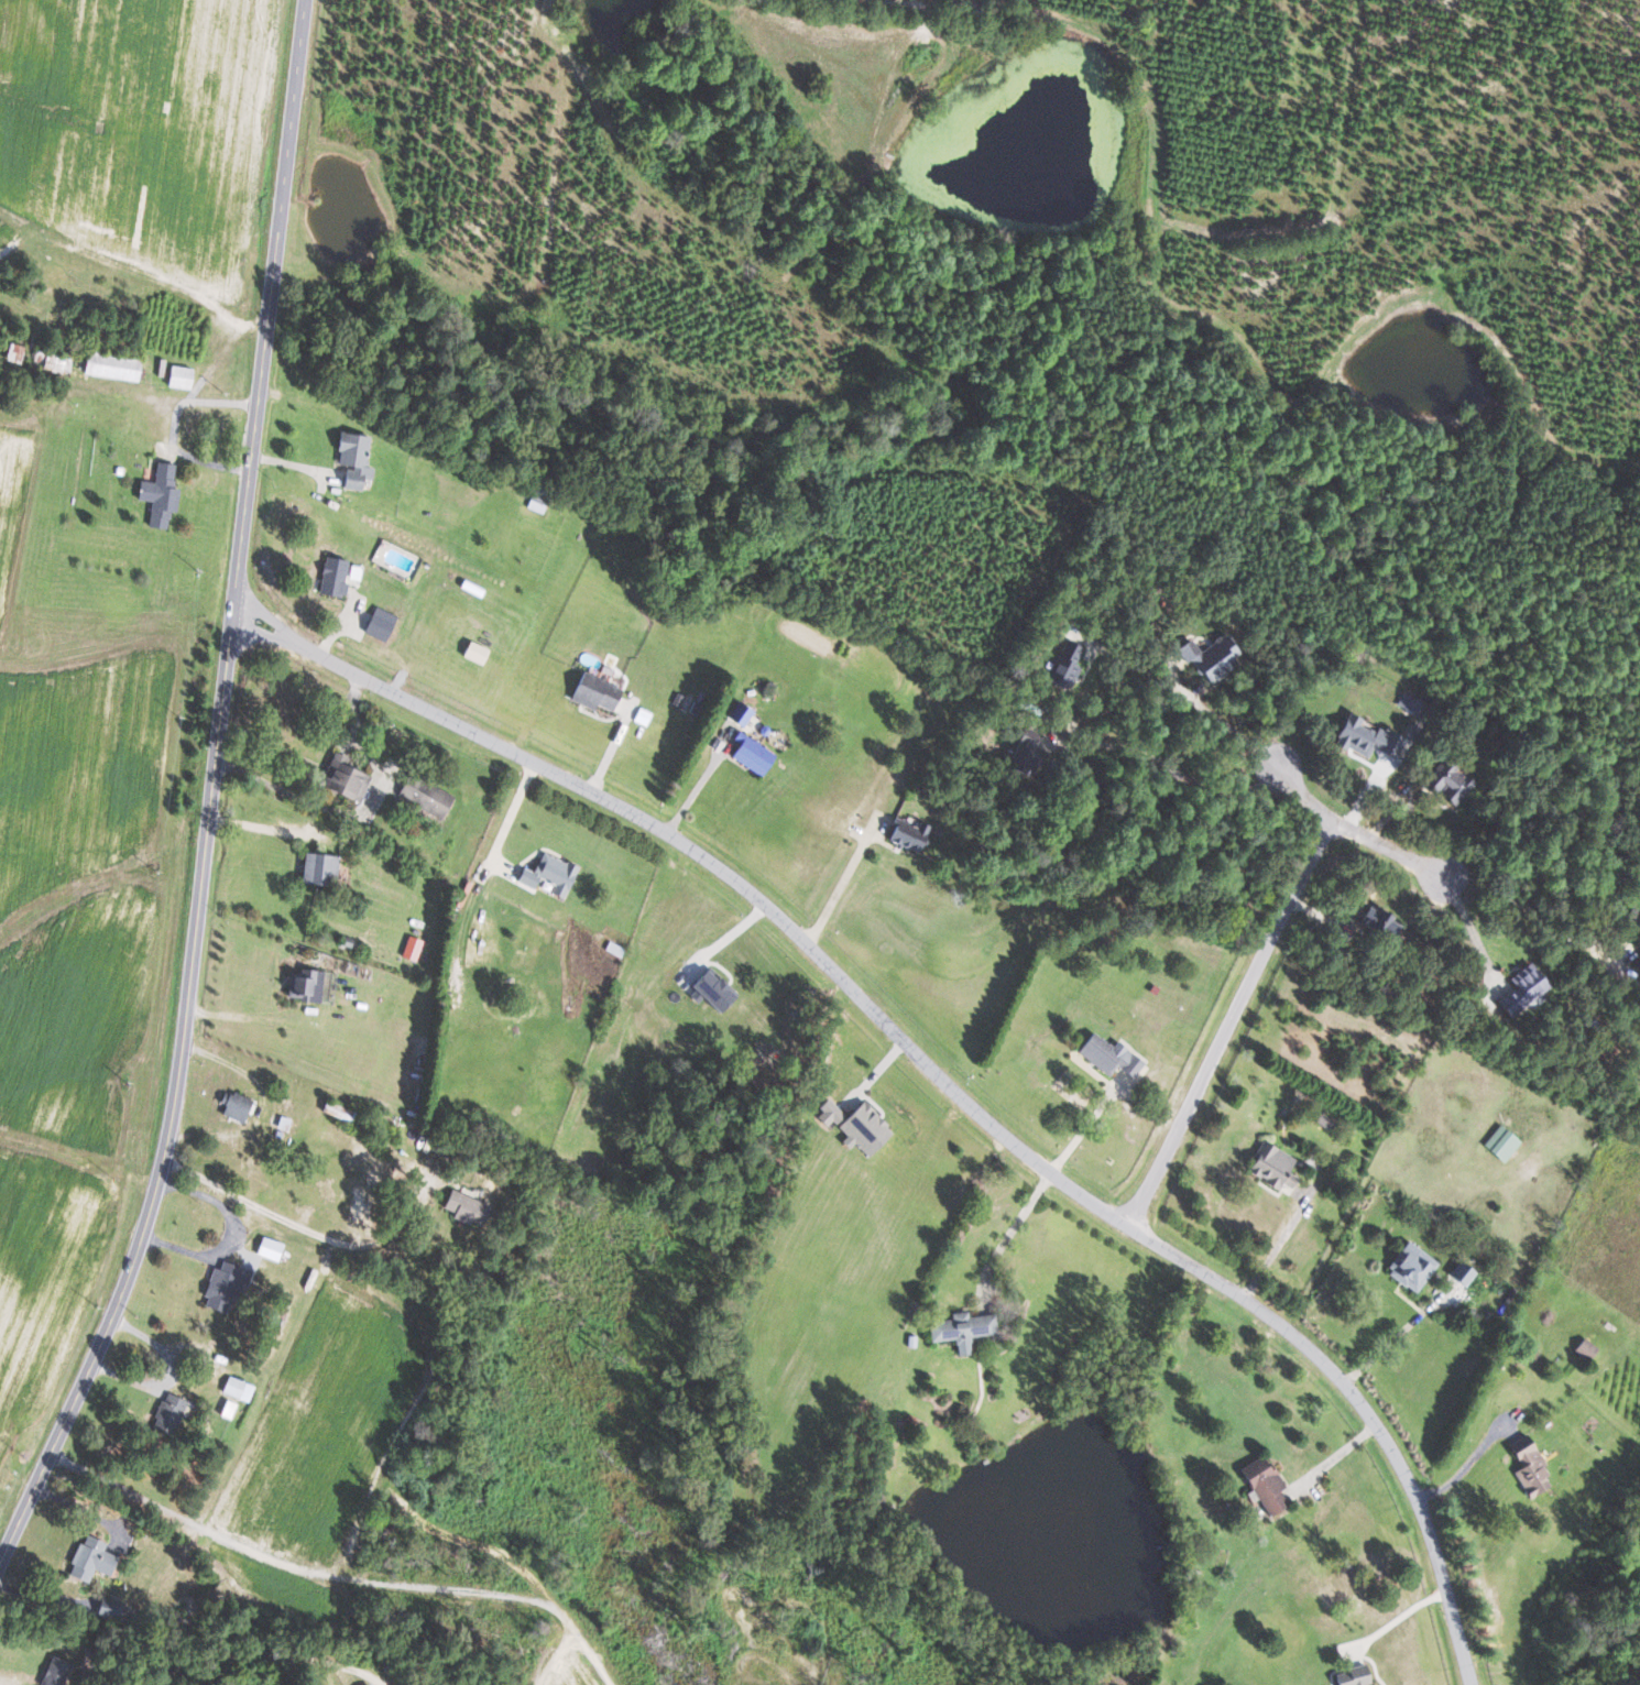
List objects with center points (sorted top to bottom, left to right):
building: (12, 353)
building: (51, 363)
building: (110, 365)
building: (178, 376)
road: (172, 426)
building: (352, 460)
building: (157, 495)
building: (336, 577)
building: (378, 624)
building: (472, 653)
building: (1209, 658)
building: (1065, 666)
building: (592, 692)
road: (1187, 696)
building: (1409, 703)
building: (642, 715)
building: (740, 715)
building: (1365, 737)
road: (1141, 751)
building: (1024, 752)
building: (751, 754)
building: (341, 778)
building: (1448, 783)
road: (697, 790)
road: (1304, 792)
road: (209, 796)
building: (428, 798)
road: (354, 813)
road: (260, 825)
building: (907, 834)
road: (1397, 854)
building: (317, 869)
building: (548, 874)
road: (838, 891)
road: (1533, 912)
building: (1633, 913)
building: (1378, 922)
building: (1638, 962)
building: (304, 986)
building: (711, 989)
building: (1522, 989)
road: (1234, 1016)
road: (250, 1017)
building: (1107, 1054)
road: (933, 1073)
building: (233, 1105)
building: (336, 1109)
building: (863, 1127)
building: (1501, 1142)
building: (1272, 1167)
building: (463, 1206)
road: (303, 1226)
road: (1008, 1233)
road: (1277, 1244)
building: (267, 1248)
building: (1410, 1266)
building: (1461, 1272)
building: (222, 1283)
building: (961, 1328)
road: (1393, 1338)
building: (1584, 1348)
building: (237, 1388)
building: (228, 1409)
building: (167, 1413)
building: (1528, 1466)
road: (1463, 1469)
building: (1261, 1484)
road: (84, 1509)
building: (89, 1558)
road: (1400, 1612)
road: (273, 1654)
building: (54, 1672)
building: (1351, 1676)

